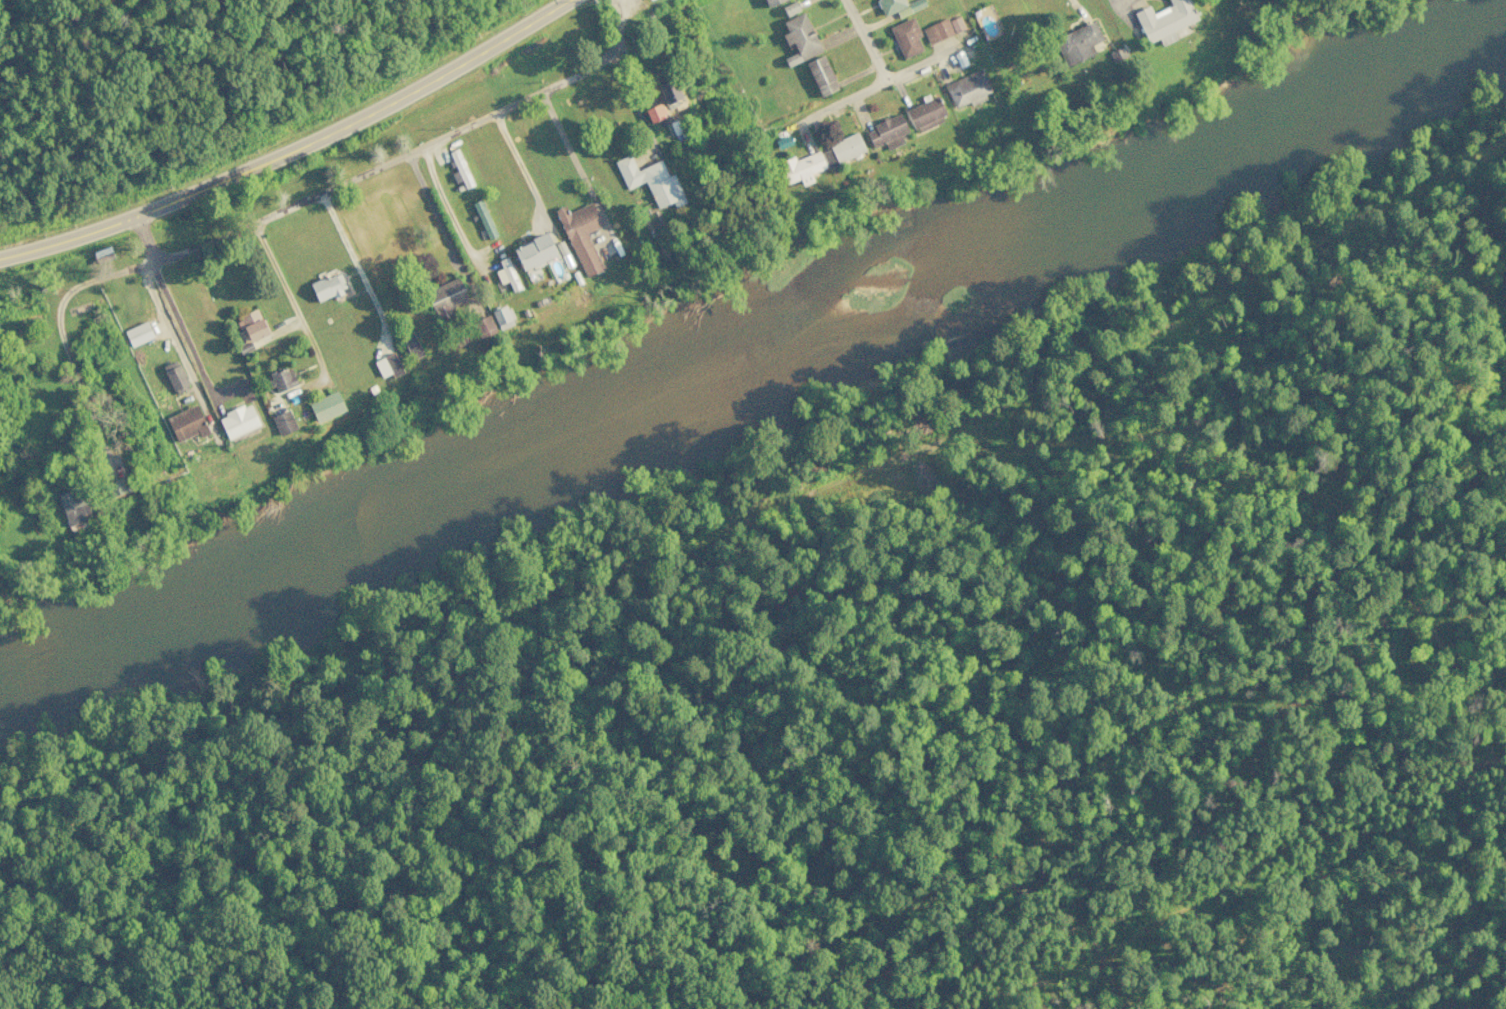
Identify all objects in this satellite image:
building: (771, 2)
building: (890, 5)
road: (516, 18)
road: (1134, 18)
building: (1164, 20)
building: (956, 24)
building: (937, 31)
building: (906, 37)
building: (799, 39)
building: (1077, 43)
river: (1306, 45)
road: (844, 50)
building: (821, 76)
road: (895, 86)
building: (967, 88)
building: (668, 89)
building: (654, 112)
building: (925, 114)
road: (812, 124)
building: (886, 132)
building: (841, 150)
road: (305, 155)
building: (800, 168)
building: (650, 181)
road: (318, 223)
building: (581, 235)
road: (442, 237)
building: (533, 251)
building: (507, 274)
building: (327, 287)
building: (445, 298)
building: (502, 317)
building: (484, 326)
building: (138, 333)
road: (184, 340)
building: (411, 345)
river: (755, 346)
road: (68, 356)
building: (387, 365)
building: (174, 375)
building: (282, 379)
building: (326, 406)
building: (238, 421)
building: (283, 422)
building: (186, 423)
road: (13, 445)
building: (115, 486)
building: (73, 506)
railway: (768, 522)

